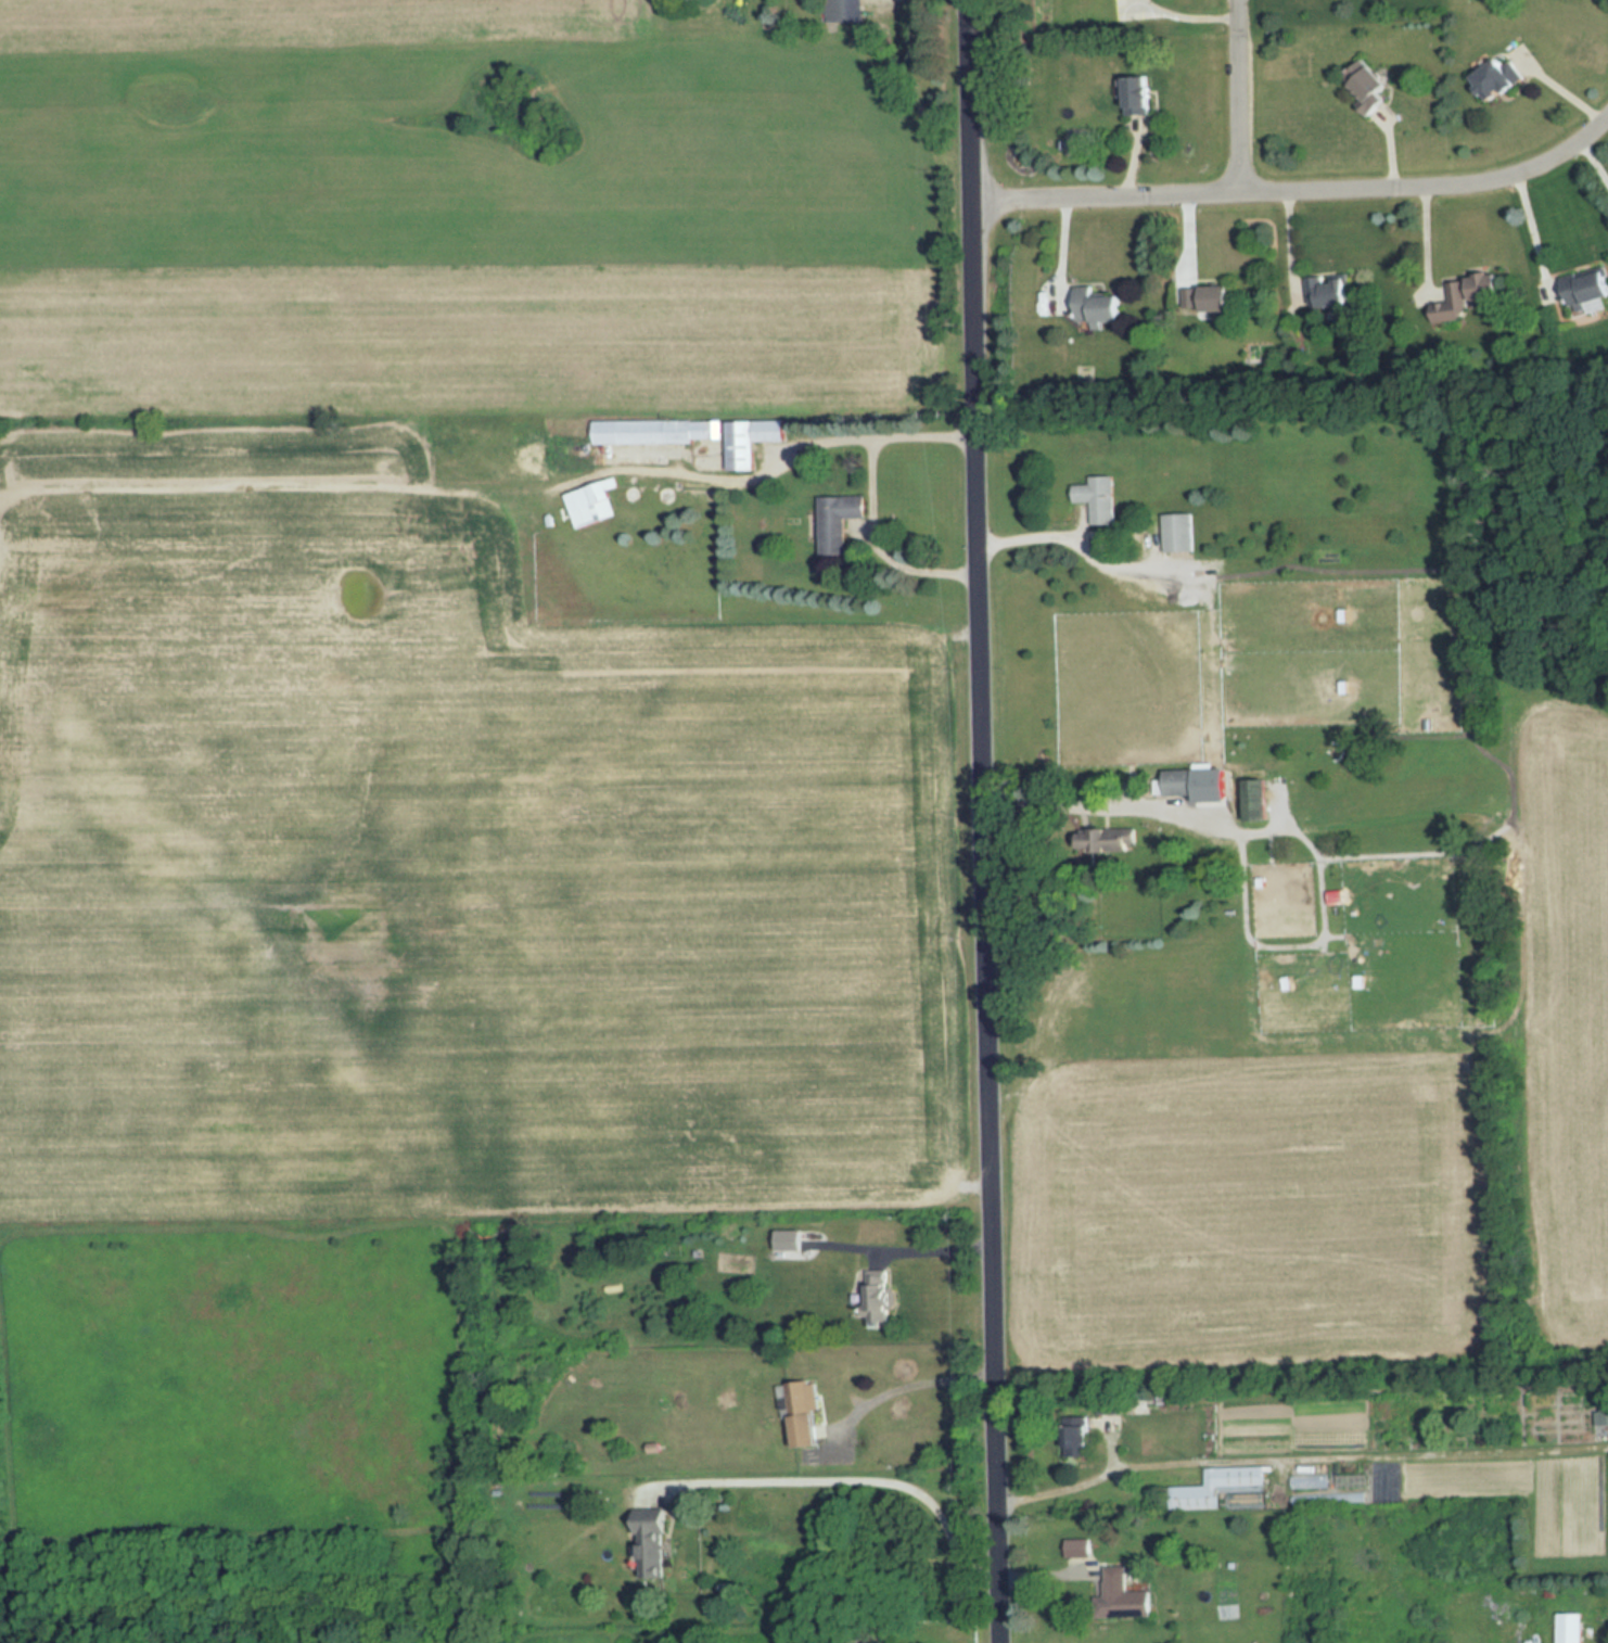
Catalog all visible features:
building: (843, 11)
building: (1505, 75)
building: (1370, 87)
building: (1143, 94)
road: (1237, 95)
road: (1594, 161)
road: (1300, 189)
road: (1535, 226)
building: (1328, 291)
building: (1586, 292)
building: (1468, 295)
building: (1209, 301)
building: (1098, 307)
building: (658, 432)
building: (752, 441)
road: (767, 463)
building: (1100, 498)
building: (592, 505)
building: (840, 521)
building: (1179, 533)
road: (1035, 537)
road: (879, 538)
road: (1111, 799)
road: (983, 821)
building: (789, 1240)
road: (926, 1245)
building: (881, 1297)
road: (910, 1379)
building: (1601, 1411)
building: (803, 1415)
building: (1079, 1438)
road: (1287, 1452)
road: (863, 1481)
building: (1216, 1487)
building: (653, 1543)
building: (1077, 1548)
building: (1126, 1590)
building: (1571, 1627)

